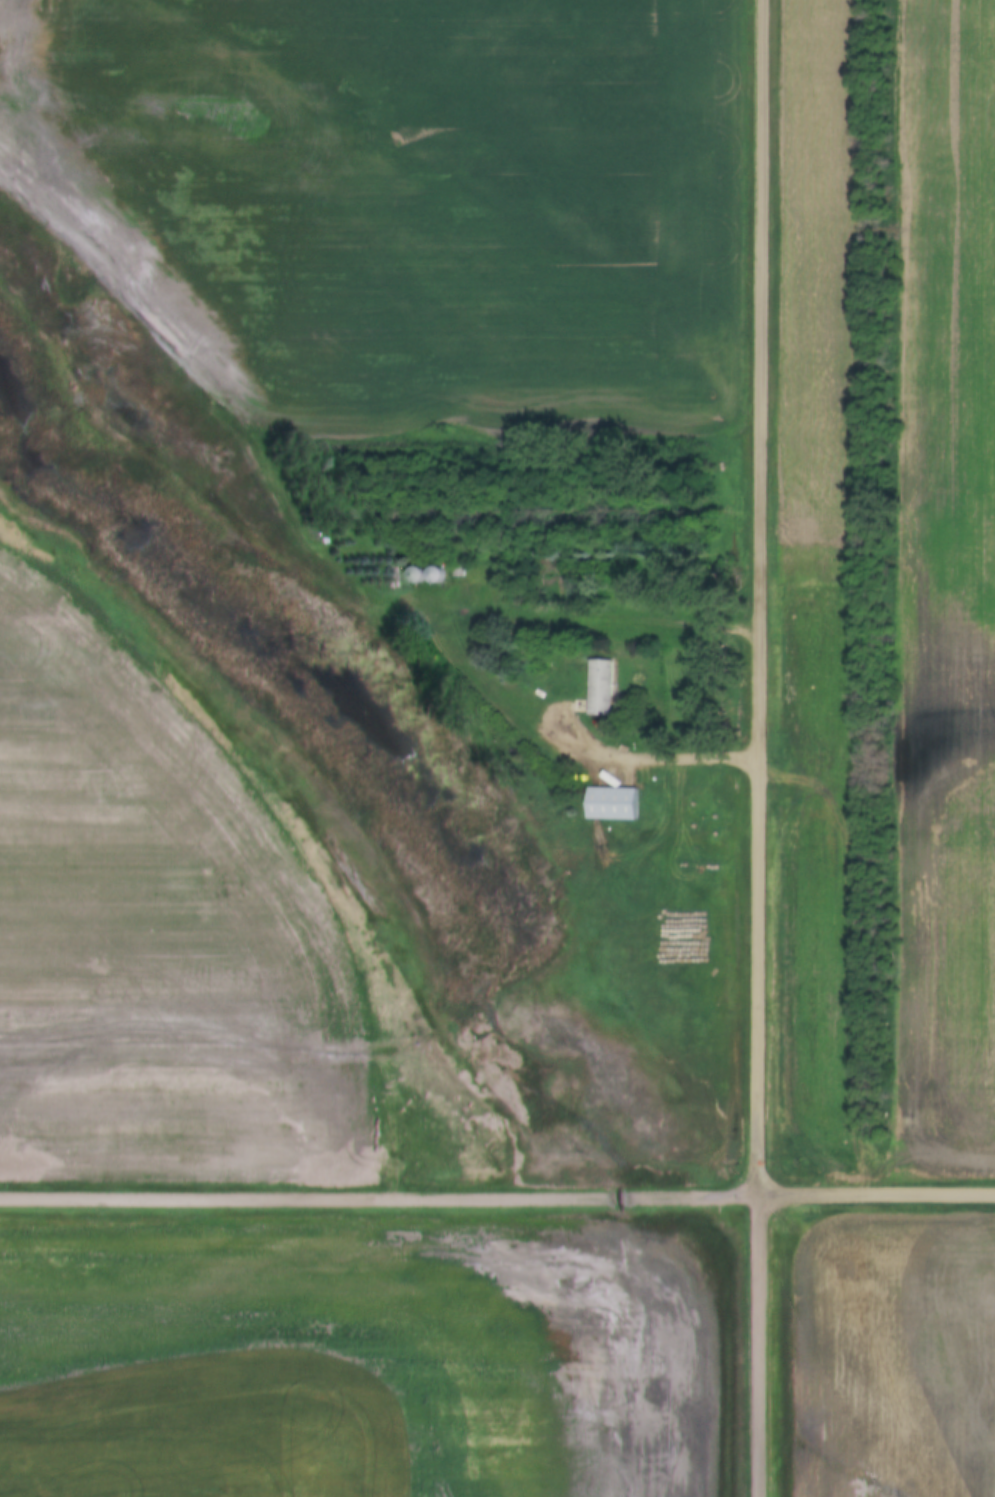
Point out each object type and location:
building: (598, 692)
road: (758, 748)
road: (651, 761)
building: (612, 806)
road: (497, 1199)

